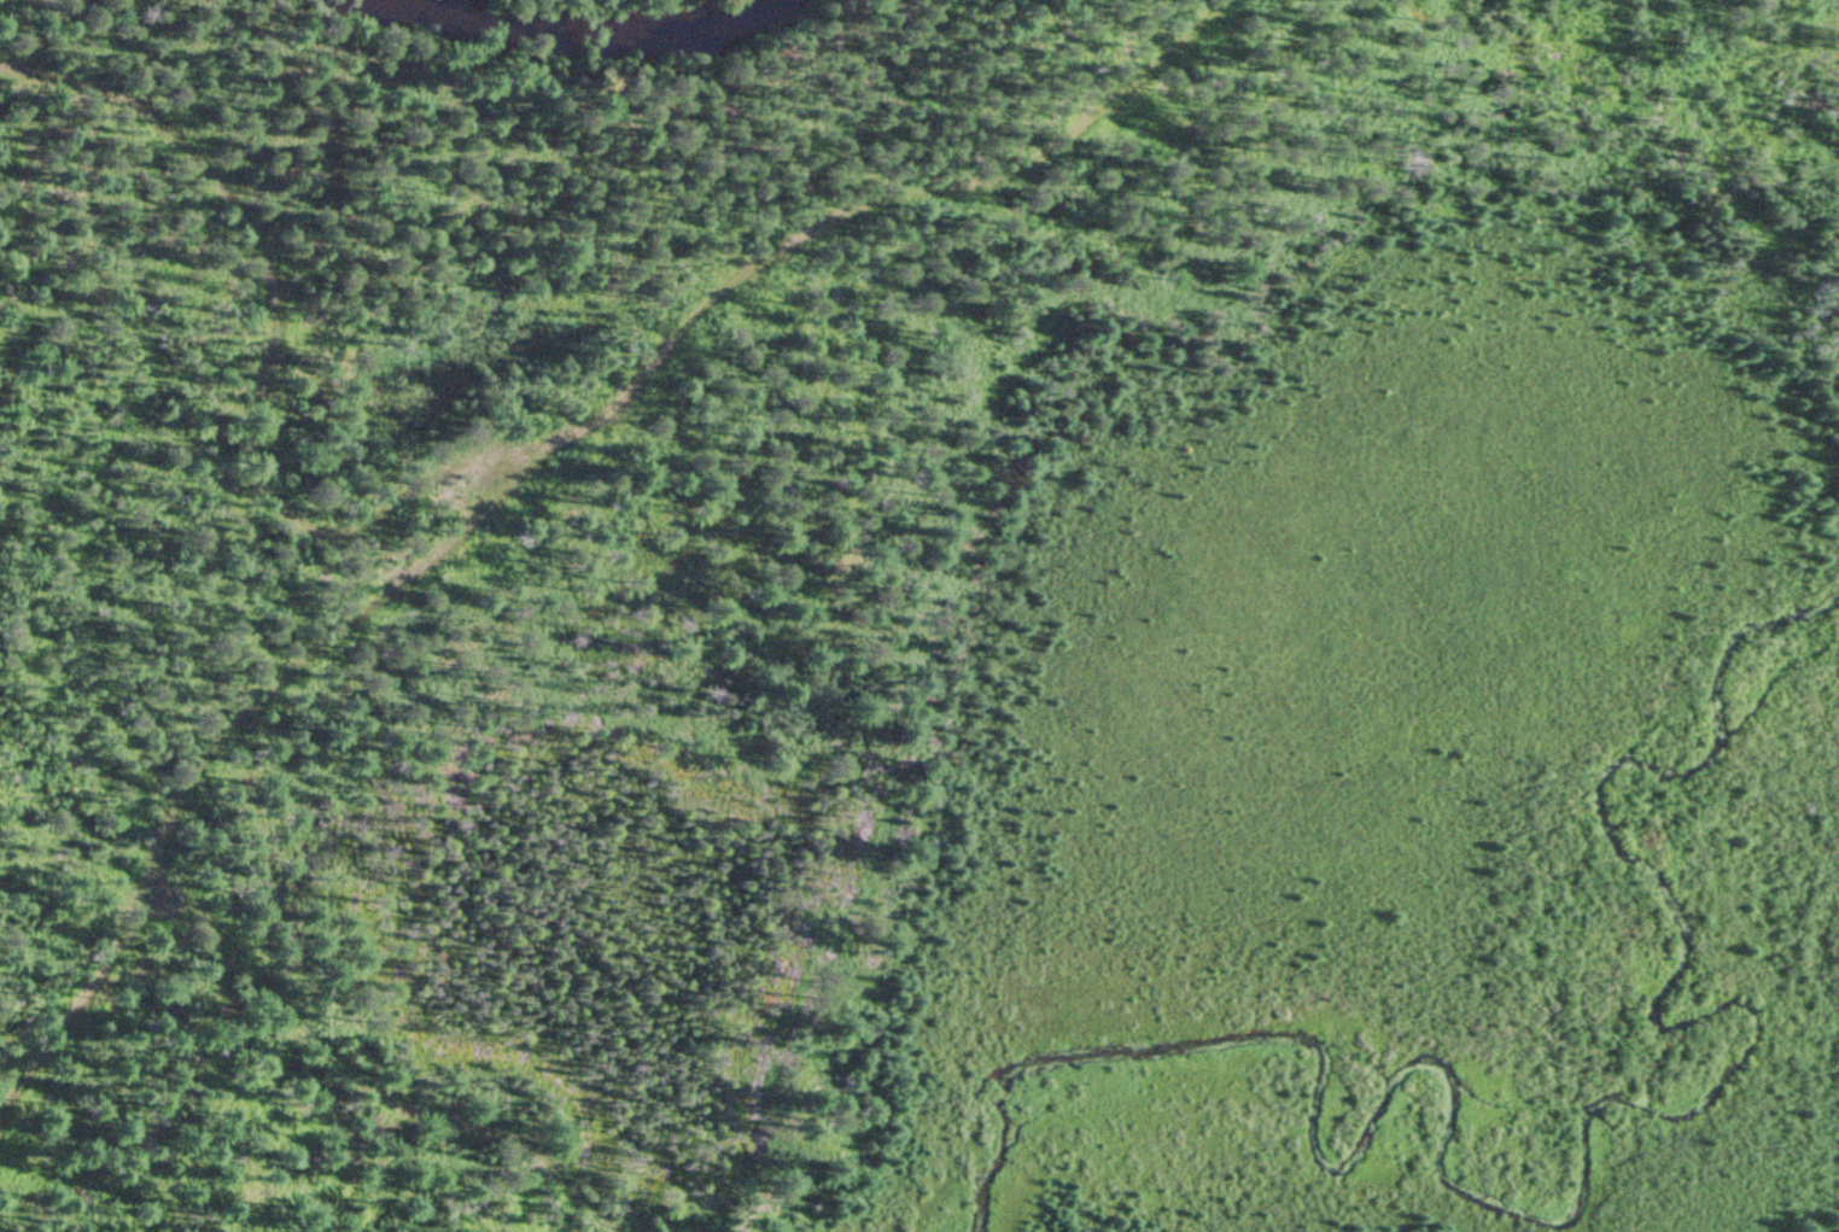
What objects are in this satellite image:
river: (588, 23)

